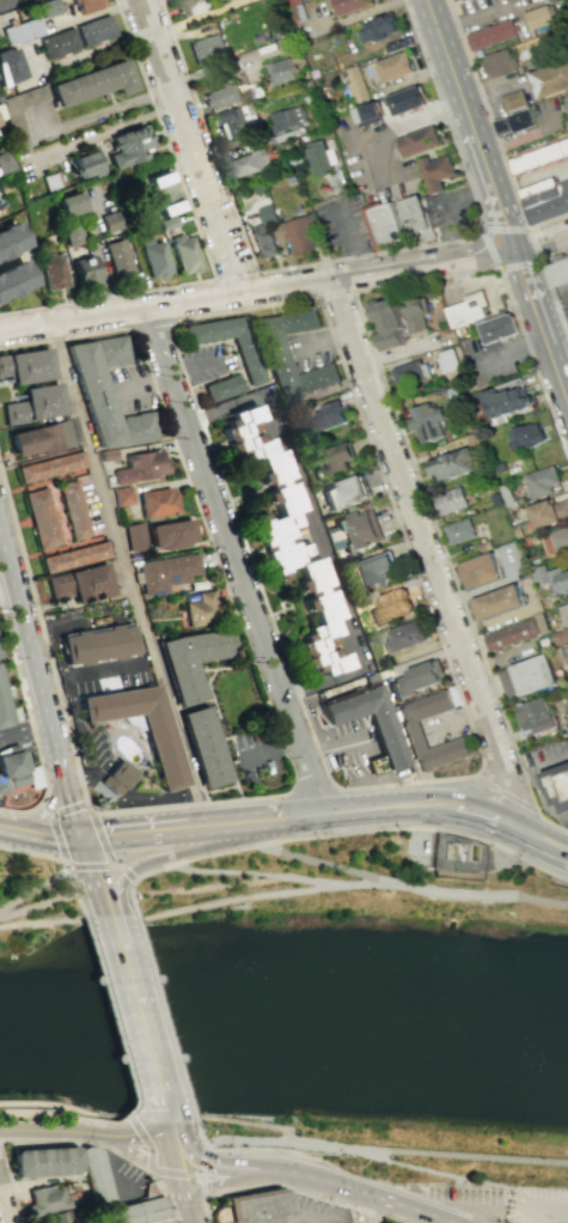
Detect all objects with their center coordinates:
building: (220, 0)
building: (456, 0)
road: (10, 4)
building: (85, 5)
building: (349, 5)
building: (47, 6)
building: (190, 6)
parking lot: (491, 10)
road: (477, 12)
building: (537, 16)
road: (435, 18)
building: (20, 29)
building: (93, 29)
building: (378, 30)
building: (491, 35)
building: (57, 42)
building: (285, 43)
building: (207, 49)
road: (30, 60)
building: (497, 62)
building: (8, 66)
building: (390, 67)
building: (281, 71)
building: (550, 78)
building: (91, 83)
building: (358, 85)
building: (231, 96)
building: (512, 99)
building: (407, 101)
building: (564, 105)
building: (366, 112)
road: (484, 112)
building: (18, 114)
building: (286, 116)
building: (237, 120)
building: (515, 122)
building: (0, 124)
road: (386, 130)
road: (184, 133)
building: (419, 141)
road: (478, 144)
building: (126, 145)
building: (322, 157)
building: (538, 157)
building: (5, 162)
building: (86, 162)
building: (250, 164)
building: (434, 171)
building: (50, 180)
building: (536, 187)
building: (164, 193)
building: (546, 201)
building: (66, 203)
road: (450, 208)
parking lot: (451, 209)
building: (109, 220)
building: (416, 220)
building: (165, 221)
road: (546, 221)
parking lot: (343, 225)
building: (385, 225)
building: (69, 232)
building: (300, 232)
building: (265, 233)
road: (487, 235)
building: (8, 237)
road: (201, 241)
road: (543, 242)
road: (353, 245)
road: (94, 250)
building: (185, 255)
road: (552, 255)
building: (117, 257)
building: (153, 257)
road: (346, 257)
road: (536, 260)
building: (85, 270)
building: (53, 272)
building: (558, 273)
road: (234, 275)
road: (454, 275)
building: (12, 276)
road: (227, 280)
road: (280, 285)
road: (563, 290)
road: (332, 292)
road: (546, 296)
road: (533, 298)
road: (552, 303)
building: (469, 309)
parking lot: (563, 314)
building: (415, 315)
road: (183, 316)
building: (386, 322)
road: (149, 325)
road: (22, 328)
building: (499, 328)
building: (271, 347)
road: (515, 348)
building: (447, 360)
building: (249, 361)
road: (533, 363)
building: (25, 365)
road: (191, 365)
building: (409, 371)
road: (558, 372)
road: (143, 382)
building: (221, 387)
building: (105, 393)
building: (502, 400)
building: (32, 403)
building: (330, 414)
building: (425, 420)
building: (527, 436)
building: (41, 437)
building: (106, 454)
building: (335, 457)
building: (452, 463)
building: (140, 466)
building: (500, 466)
building: (51, 473)
building: (542, 480)
building: (343, 493)
building: (121, 494)
building: (495, 498)
road: (423, 499)
building: (450, 500)
building: (155, 503)
building: (549, 511)
building: (71, 512)
building: (39, 522)
road: (309, 530)
building: (355, 530)
building: (459, 530)
building: (279, 531)
building: (518, 531)
building: (167, 533)
building: (134, 535)
building: (560, 539)
building: (482, 544)
building: (90, 554)
road: (428, 555)
road: (236, 560)
building: (55, 564)
building: (372, 570)
building: (480, 570)
road: (123, 571)
building: (164, 571)
building: (551, 577)
building: (78, 584)
road: (7, 591)
building: (497, 601)
building: (200, 609)
building: (563, 611)
building: (567, 625)
building: (512, 633)
building: (404, 635)
building: (560, 635)
building: (96, 644)
building: (567, 644)
road: (32, 656)
road: (422, 661)
building: (189, 662)
road: (204, 669)
building: (527, 676)
building: (415, 679)
building: (6, 706)
road: (216, 713)
building: (535, 716)
road: (457, 718)
road: (30, 724)
parking lot: (444, 725)
building: (408, 726)
building: (140, 728)
road: (25, 731)
building: (384, 740)
road: (336, 747)
parking lot: (350, 747)
road: (369, 747)
building: (202, 748)
road: (271, 748)
parking lot: (256, 752)
road: (285, 753)
road: (237, 759)
road: (375, 763)
building: (17, 774)
building: (115, 777)
road: (309, 780)
building: (557, 786)
road: (384, 787)
road: (469, 787)
road: (216, 789)
road: (502, 792)
road: (415, 804)
road: (68, 808)
road: (45, 809)
road: (73, 811)
road: (337, 811)
road: (480, 816)
road: (262, 822)
road: (55, 829)
road: (372, 829)
road: (417, 829)
road: (163, 832)
road: (102, 835)
road: (41, 836)
traffic signals: (83, 840)
road: (544, 844)
park: (324, 852)
road: (31, 853)
road: (165, 857)
road: (311, 858)
building: (457, 858)
road: (66, 864)
park: (17, 866)
road: (103, 866)
road: (152, 874)
road: (250, 875)
road: (93, 876)
road: (71, 881)
road: (356, 884)
road: (35, 887)
road: (128, 889)
road: (417, 889)
road: (484, 894)
road: (74, 899)
road: (542, 899)
road: (234, 903)
road: (36, 906)
road: (111, 923)
road: (41, 925)
road: (112, 941)
river: (279, 990)
road: (128, 991)
park: (299, 1004)
road: (109, 1009)
road: (165, 1017)
road: (149, 1067)
road: (79, 1108)
road: (60, 1115)
road: (123, 1119)
road: (129, 1120)
road: (228, 1121)
road: (166, 1124)
road: (84, 1132)
road: (173, 1134)
road: (200, 1138)
road: (237, 1139)
road: (77, 1140)
road: (145, 1144)
road: (140, 1152)
road: (430, 1154)
road: (201, 1160)
building: (41, 1162)
road: (396, 1163)
road: (110, 1164)
road: (176, 1164)
road: (216, 1164)
traffic signals: (177, 1168)
road: (331, 1168)
road: (173, 1173)
parking lot: (122, 1178)
road: (220, 1179)
road: (201, 1181)
road: (10, 1184)
road: (166, 1185)
building: (96, 1186)
road: (285, 1186)
road: (134, 1189)
road: (202, 1189)
road: (148, 1191)
road: (358, 1192)
road: (163, 1193)
road: (287, 1195)
parking lot: (460, 1195)
building: (42, 1200)
traffic signals: (185, 1201)
parking lot: (537, 1205)
road: (4, 1206)
building: (250, 1206)
road: (203, 1207)
road: (362, 1207)
road: (364, 1210)
road: (188, 1212)
road: (549, 1212)
building: (54, 1217)
road: (389, 1217)
road: (542, 1217)

